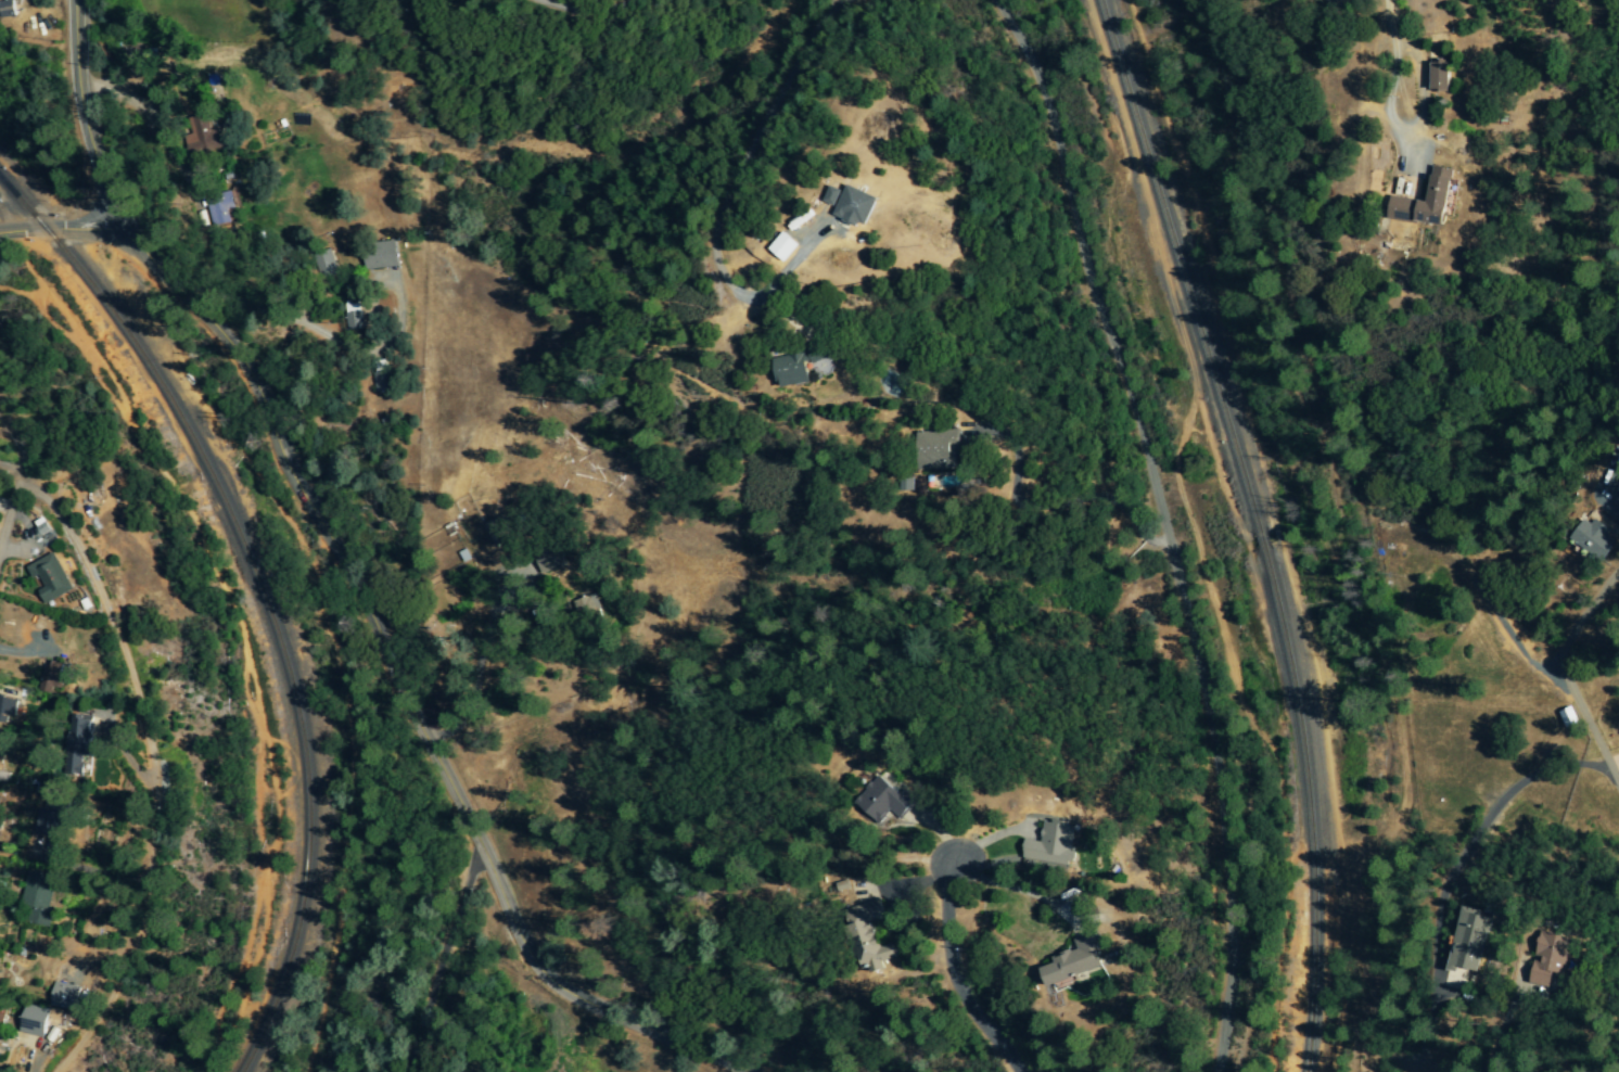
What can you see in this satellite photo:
road: (836, 3)
building: (7, 9)
building: (1441, 75)
road: (1420, 82)
road: (1387, 98)
road: (82, 109)
road: (750, 150)
building: (840, 195)
building: (1427, 202)
building: (864, 205)
building: (218, 208)
road: (61, 231)
building: (790, 246)
building: (380, 255)
building: (321, 264)
building: (354, 315)
road: (4, 442)
road: (40, 499)
road: (8, 510)
road: (1165, 524)
railway: (1259, 526)
building: (497, 529)
building: (1595, 537)
building: (50, 578)
railway: (263, 594)
building: (587, 607)
road: (330, 639)
road: (237, 664)
building: (52, 677)
road: (393, 678)
road: (1567, 681)
building: (8, 712)
road: (450, 728)
road: (124, 742)
building: (81, 746)
building: (3, 757)
building: (884, 802)
road: (152, 821)
building: (1056, 846)
road: (87, 870)
building: (39, 898)
building: (870, 937)
building: (1470, 952)
road: (436, 956)
building: (1563, 960)
building: (1074, 963)
road: (951, 977)
building: (66, 997)
building: (1, 1023)
building: (34, 1023)

